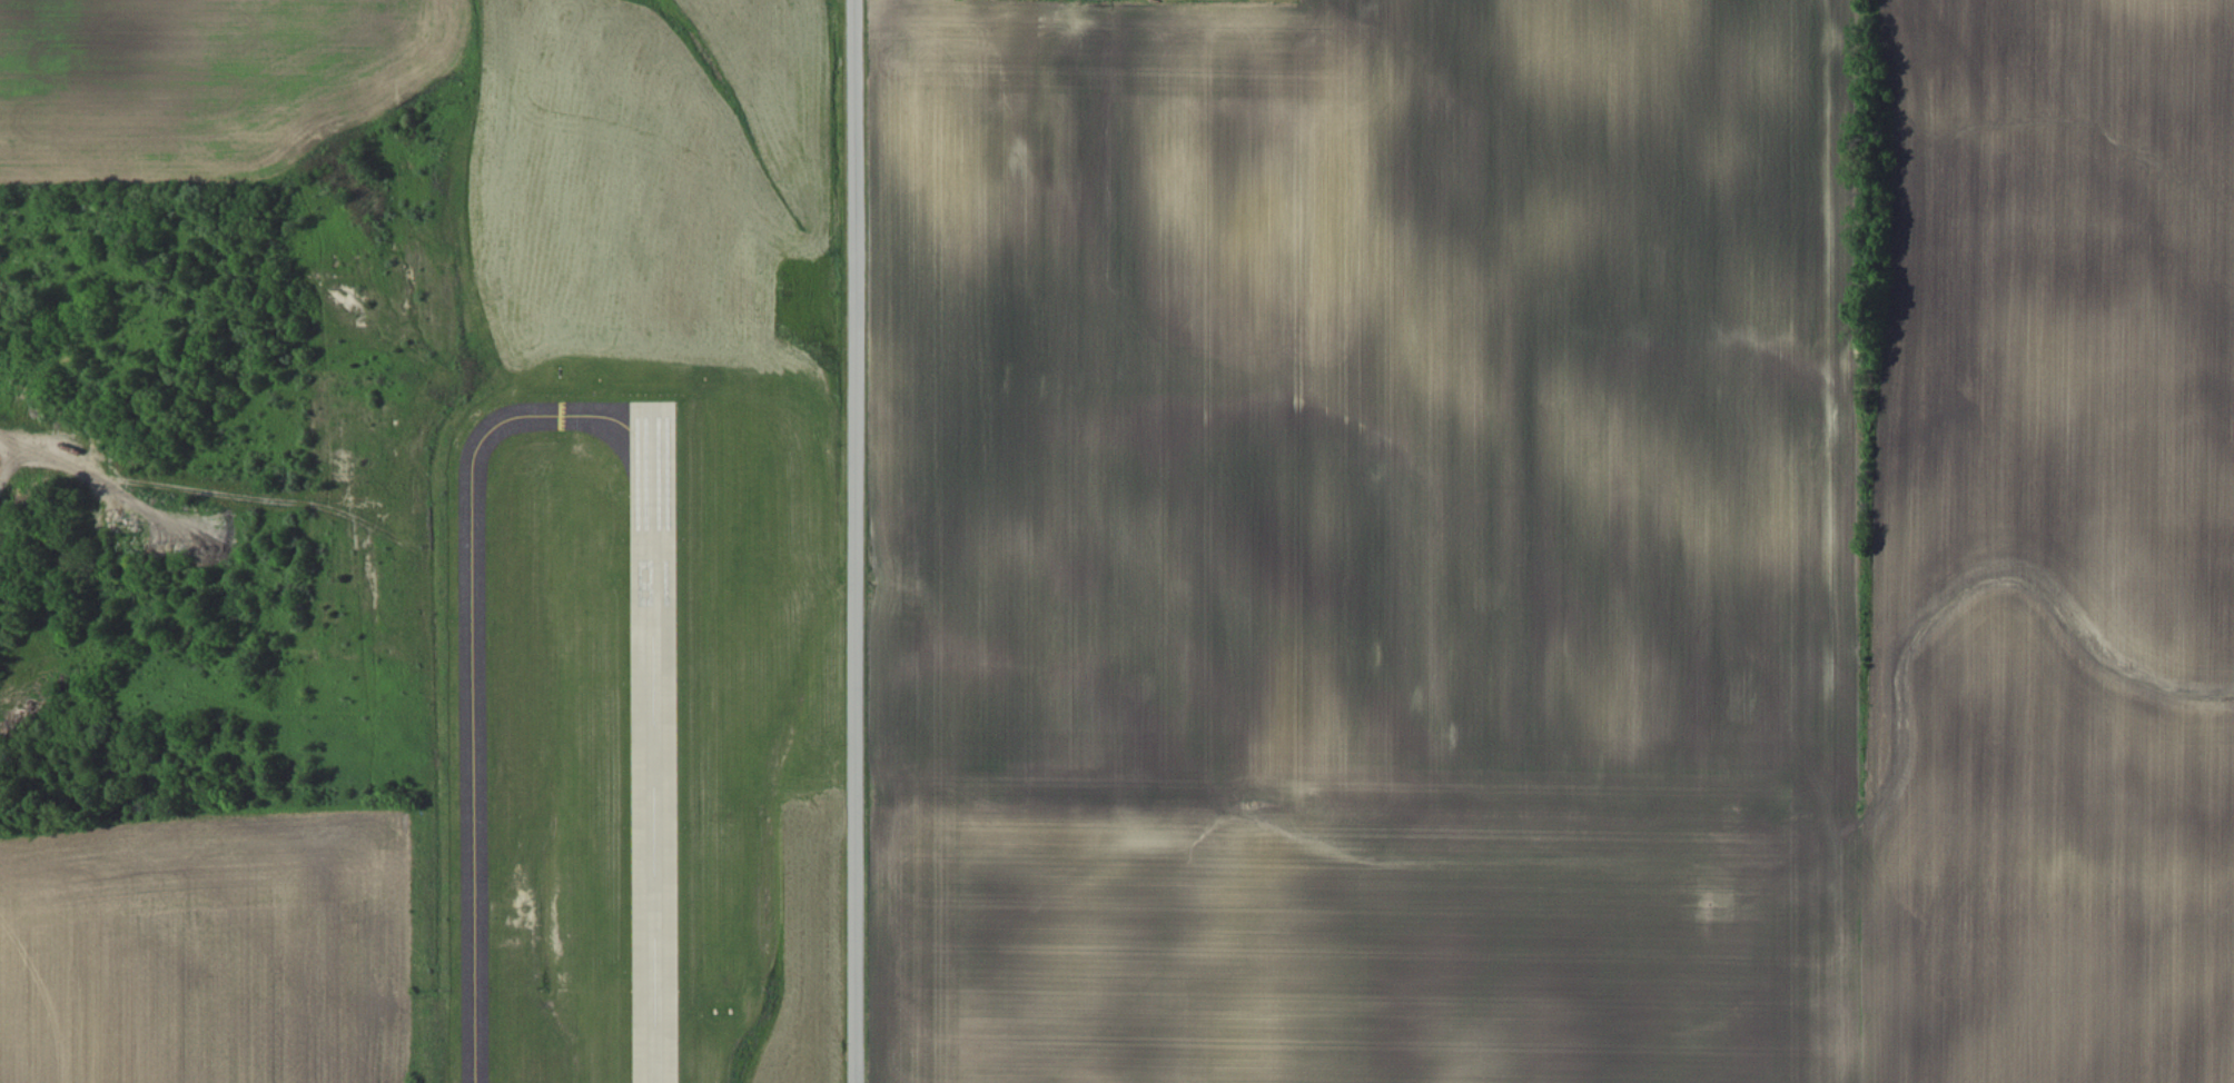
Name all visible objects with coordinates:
road: (857, 540)
airport taxiway: (475, 664)
airport: (622, 709)
airport runway: (652, 751)

